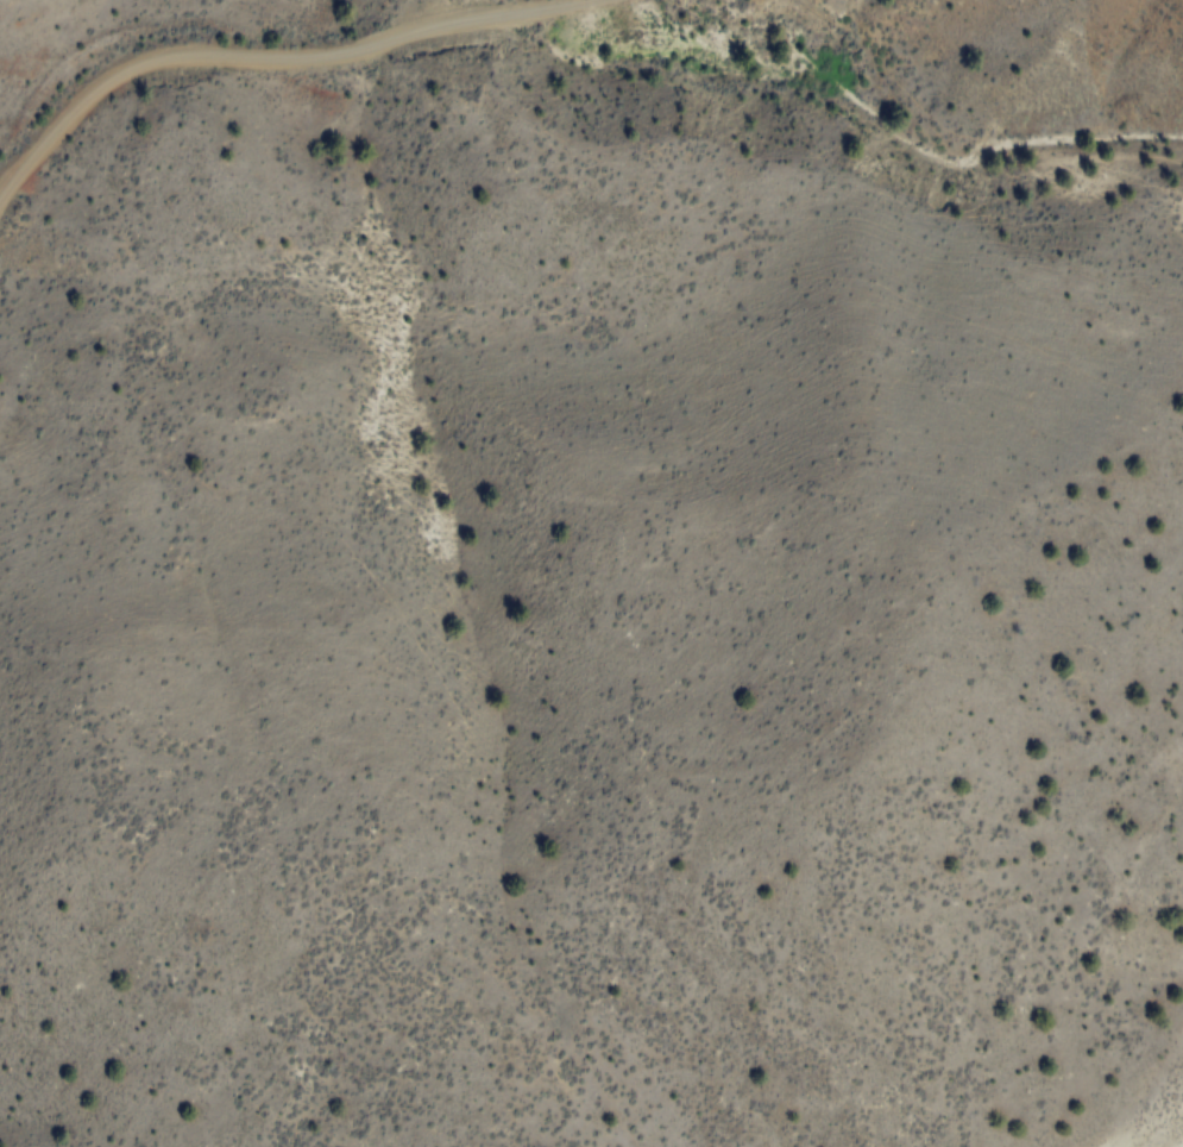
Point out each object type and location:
road: (262, 57)

